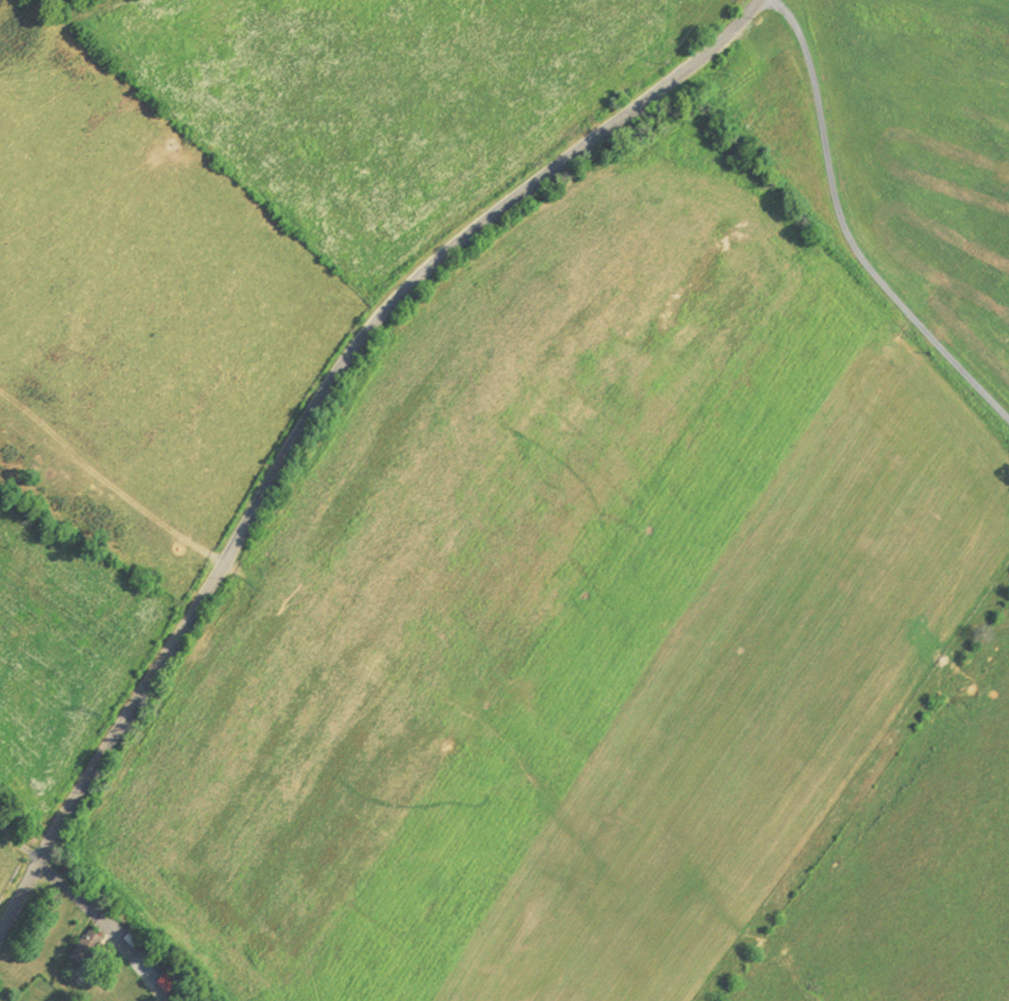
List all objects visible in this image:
road: (845, 234)
road: (310, 407)
road: (117, 475)
road: (20, 843)
road: (84, 902)
building: (80, 957)

